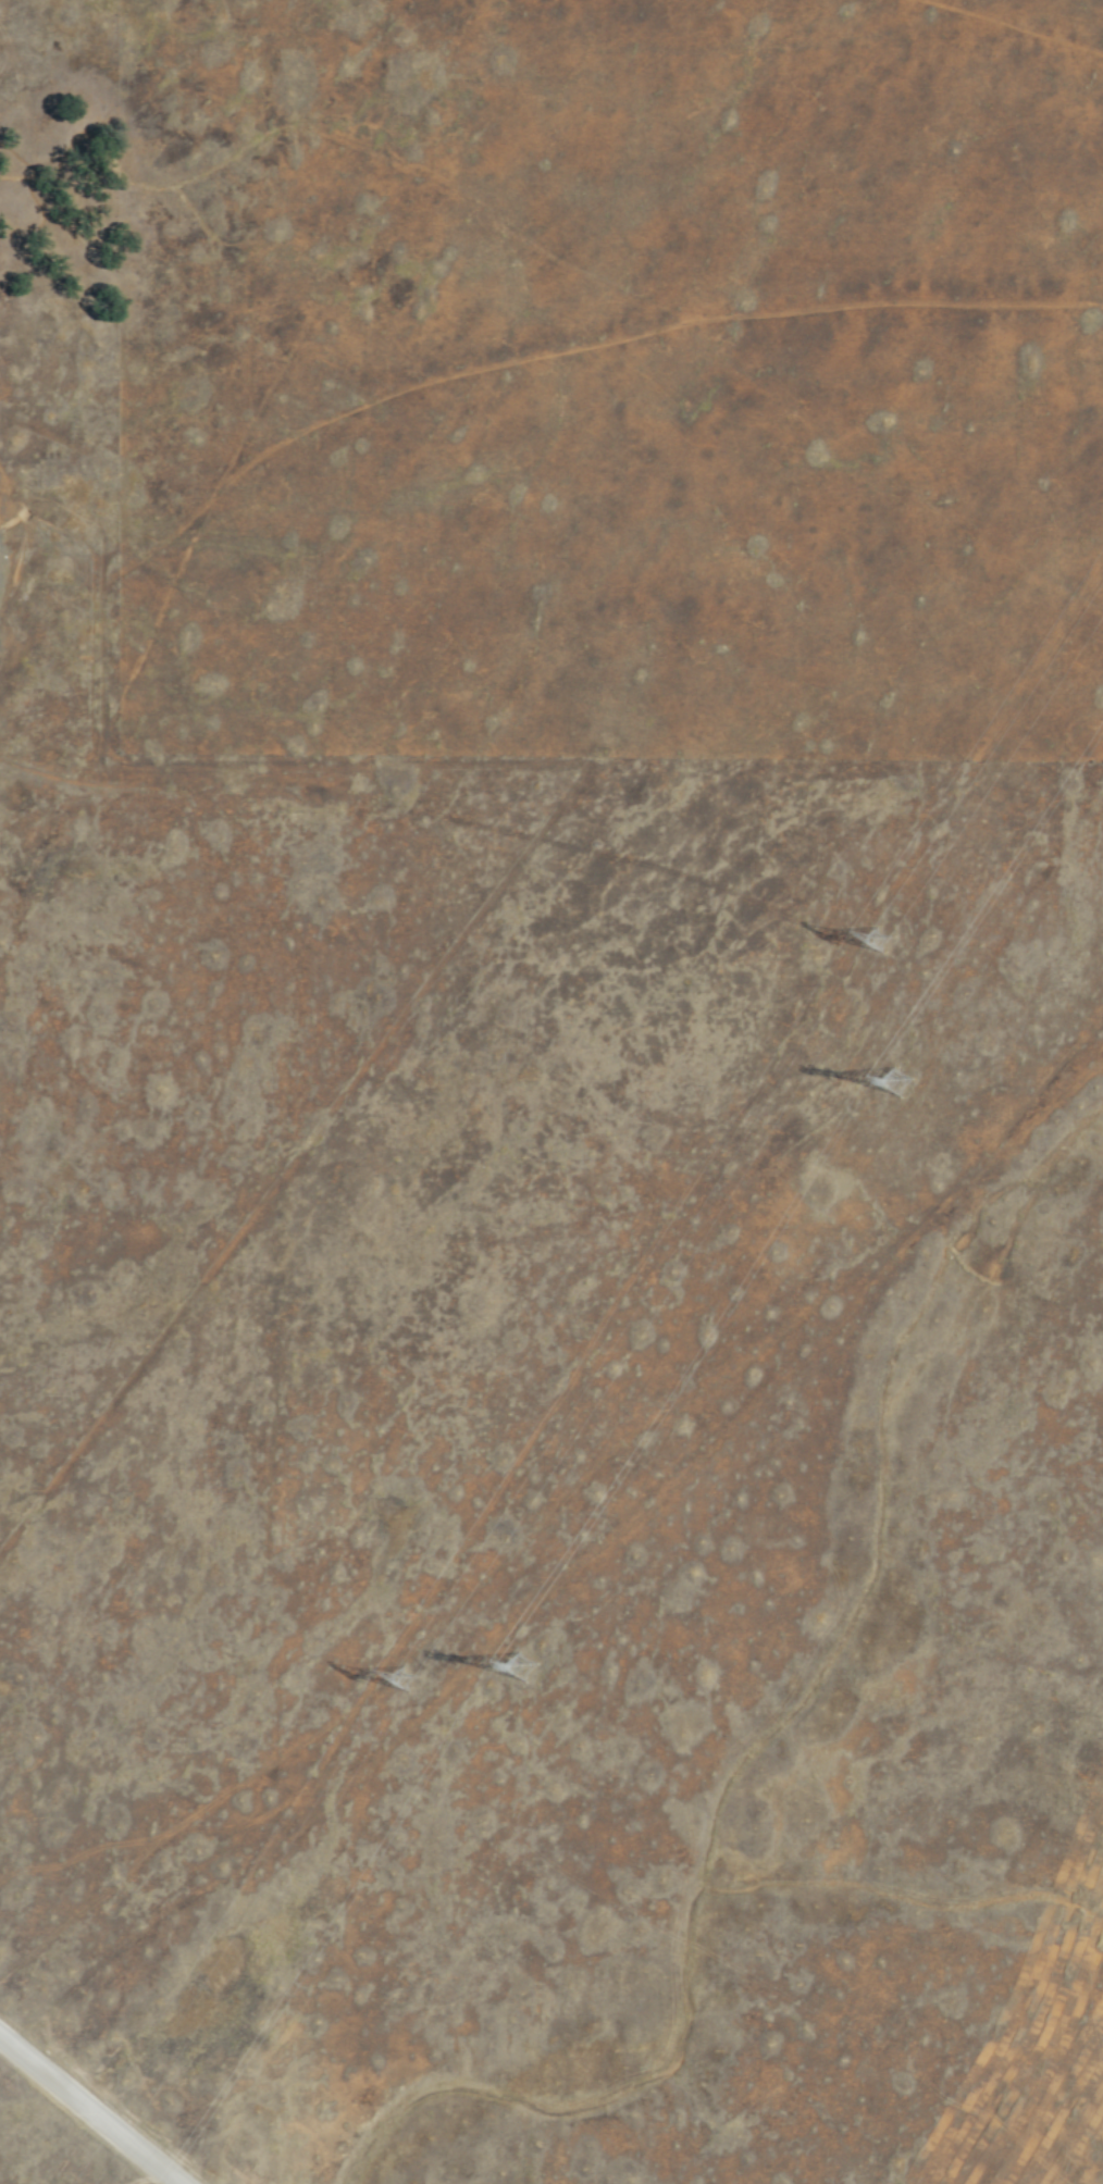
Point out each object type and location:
power tower: (875, 950)
power tower: (892, 1095)
power tower: (534, 1674)
power tower: (425, 1683)
road: (86, 2110)

